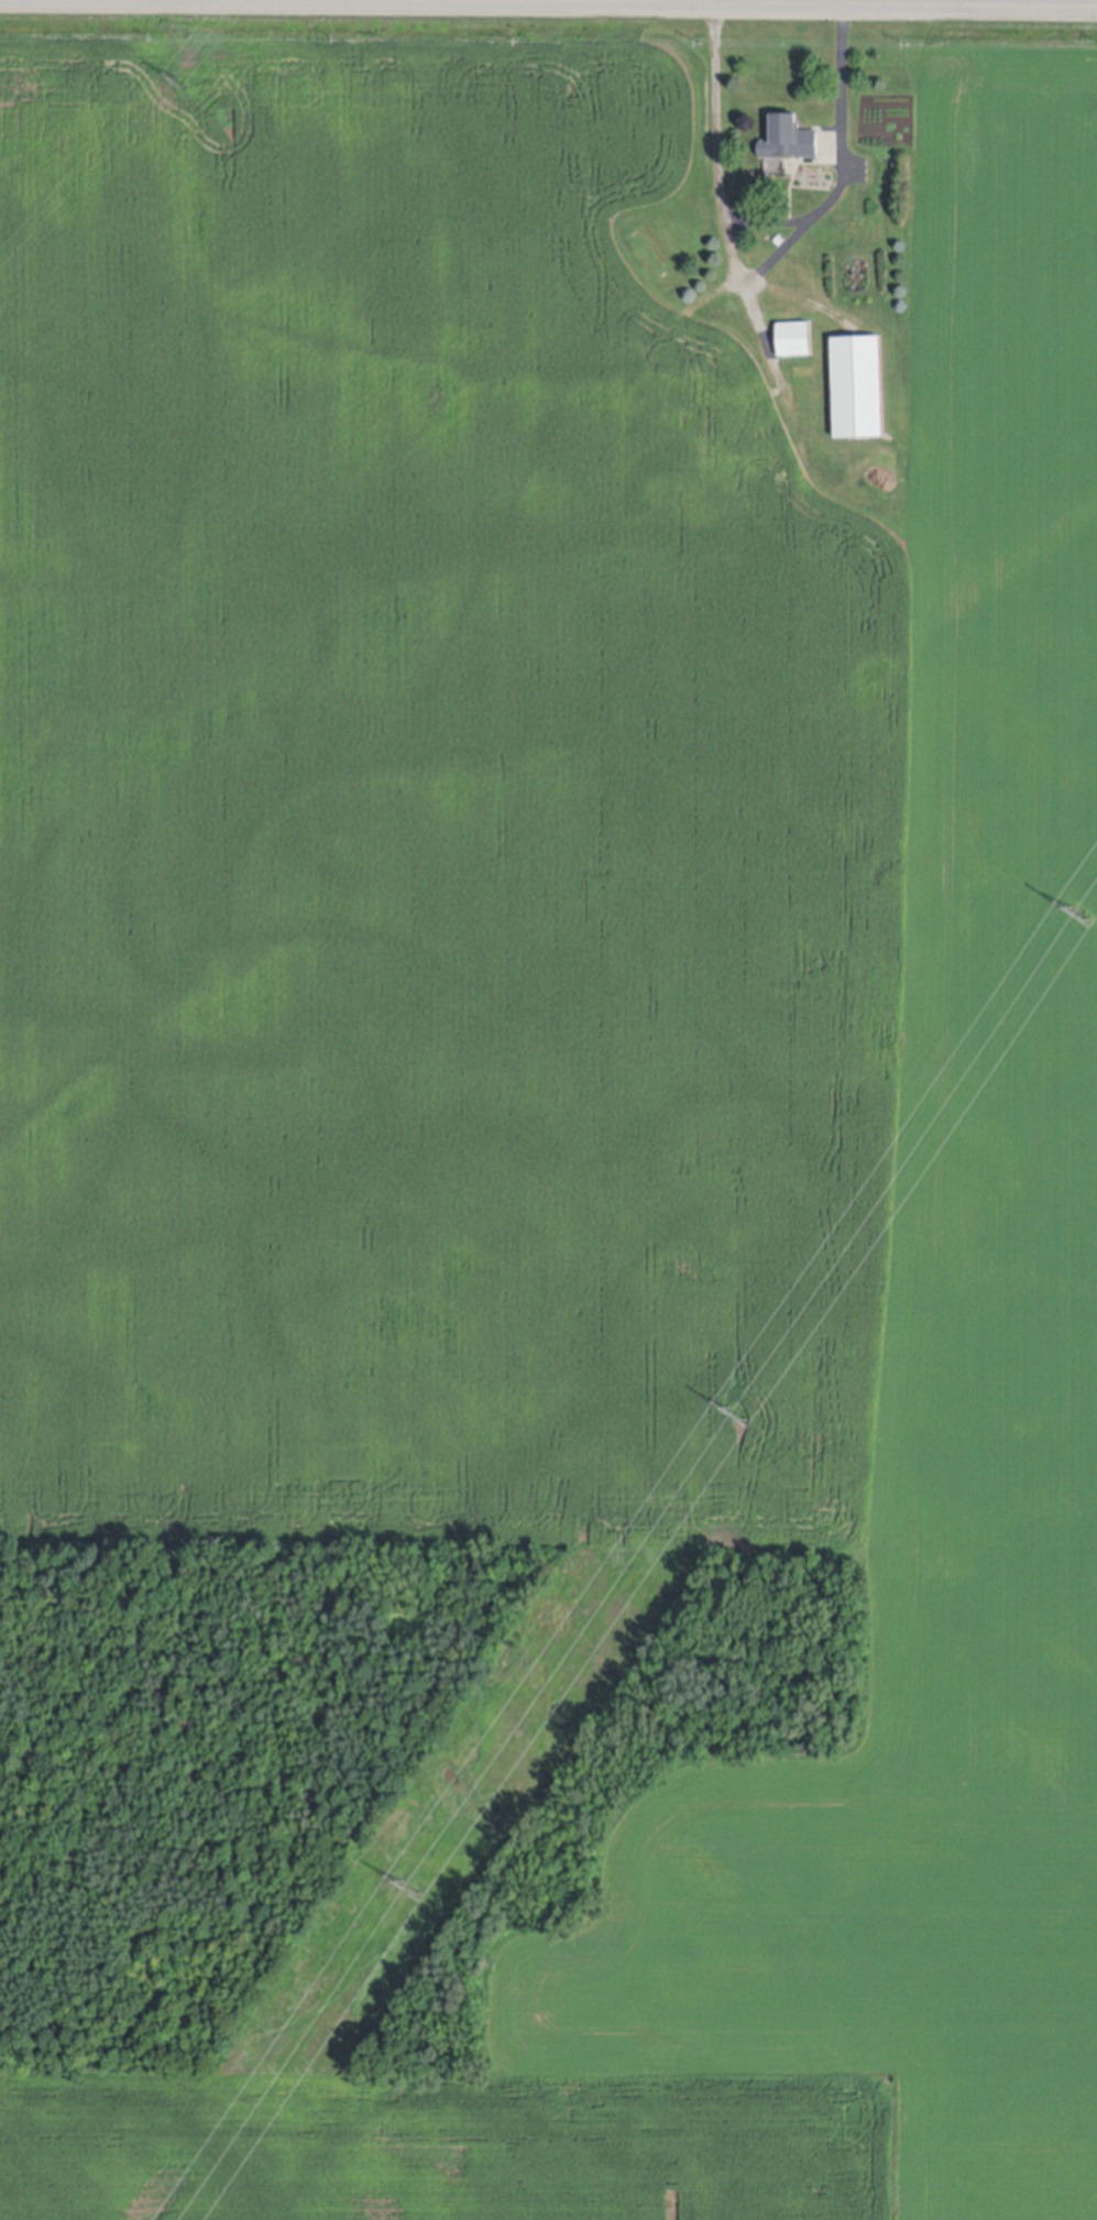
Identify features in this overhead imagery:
road: (548, 4)
power tower: (178, 80)
building: (789, 134)
road: (776, 226)
building: (794, 336)
building: (858, 382)
power tower: (1079, 910)
power tower: (736, 1413)
quarry: (632, 1440)
power tower: (412, 1887)

